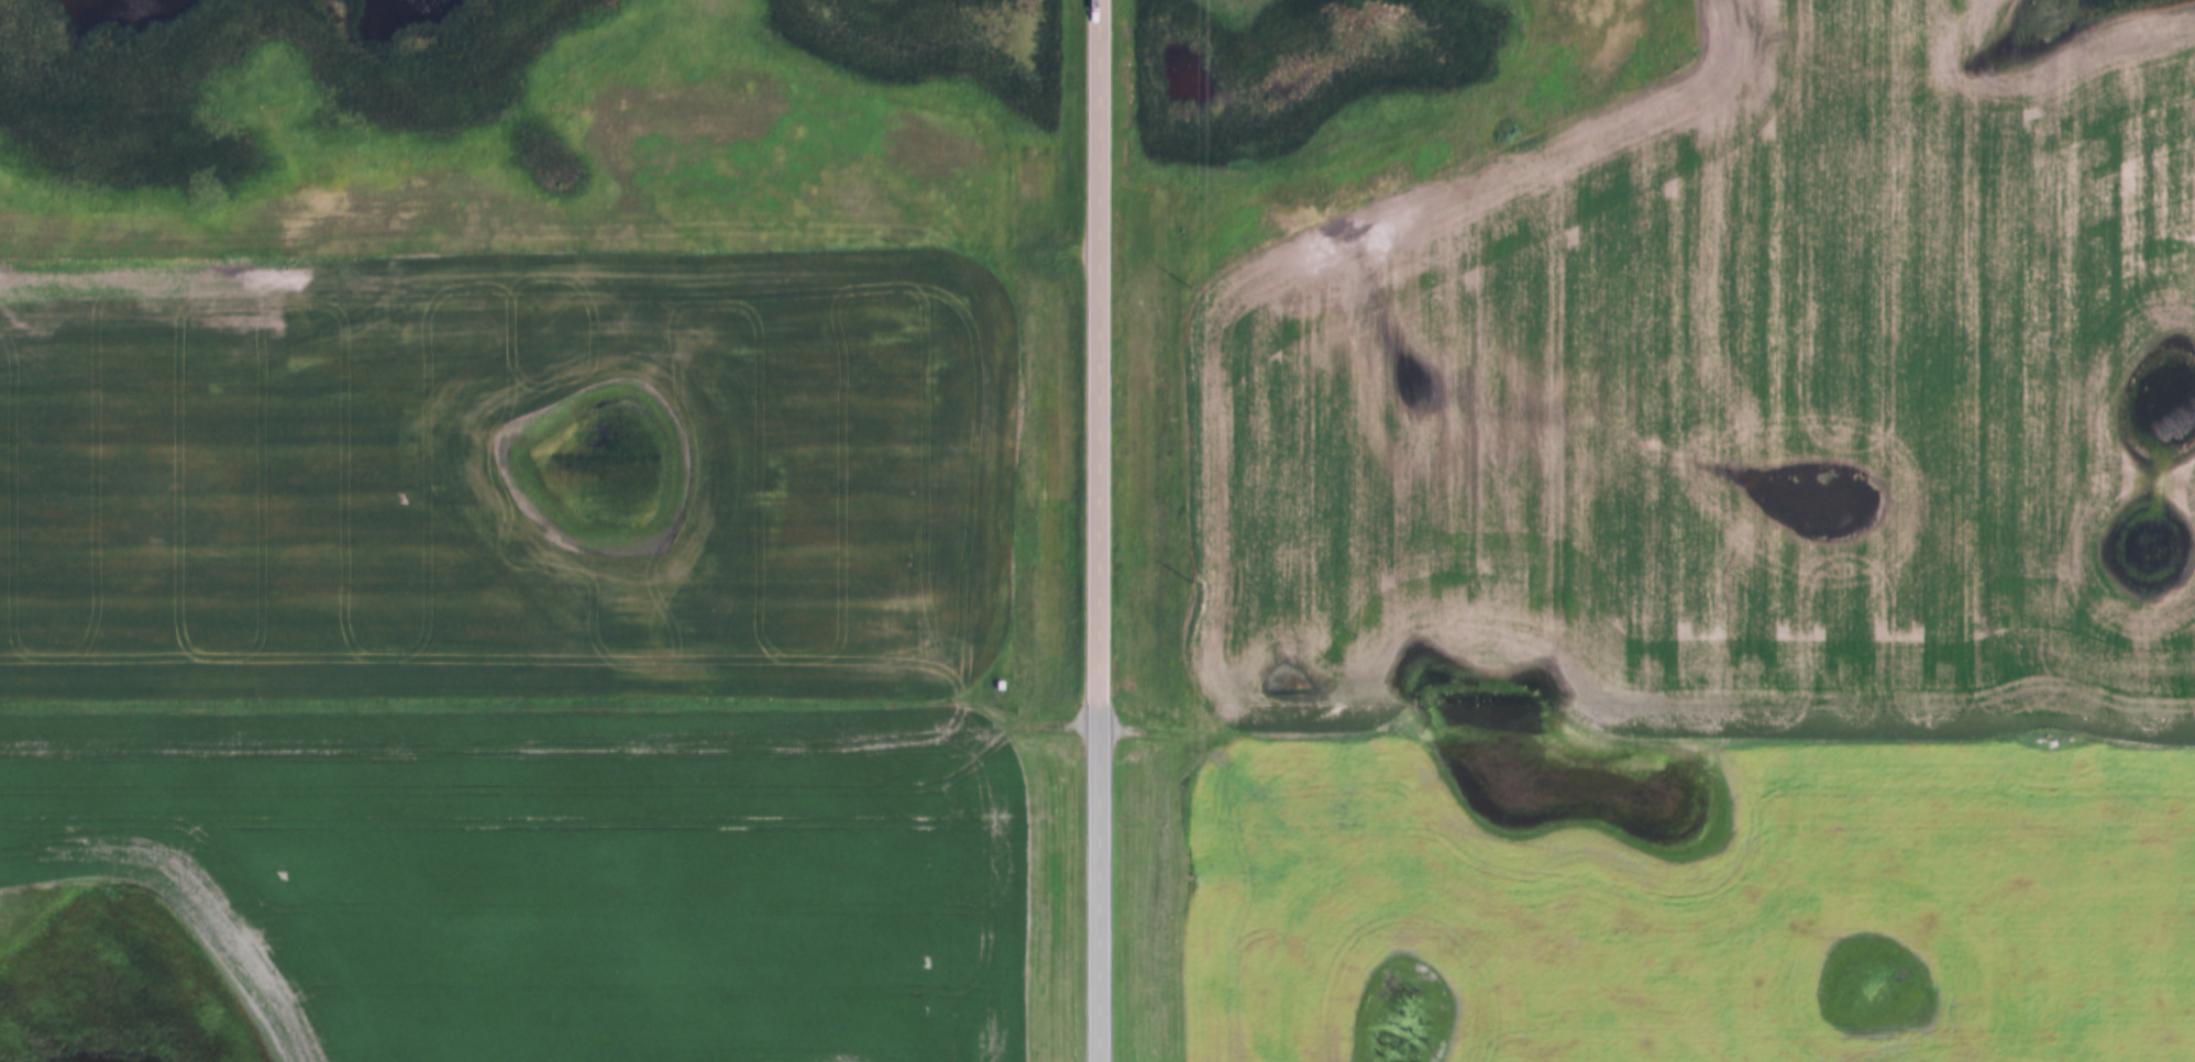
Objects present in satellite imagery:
road: (1100, 531)

